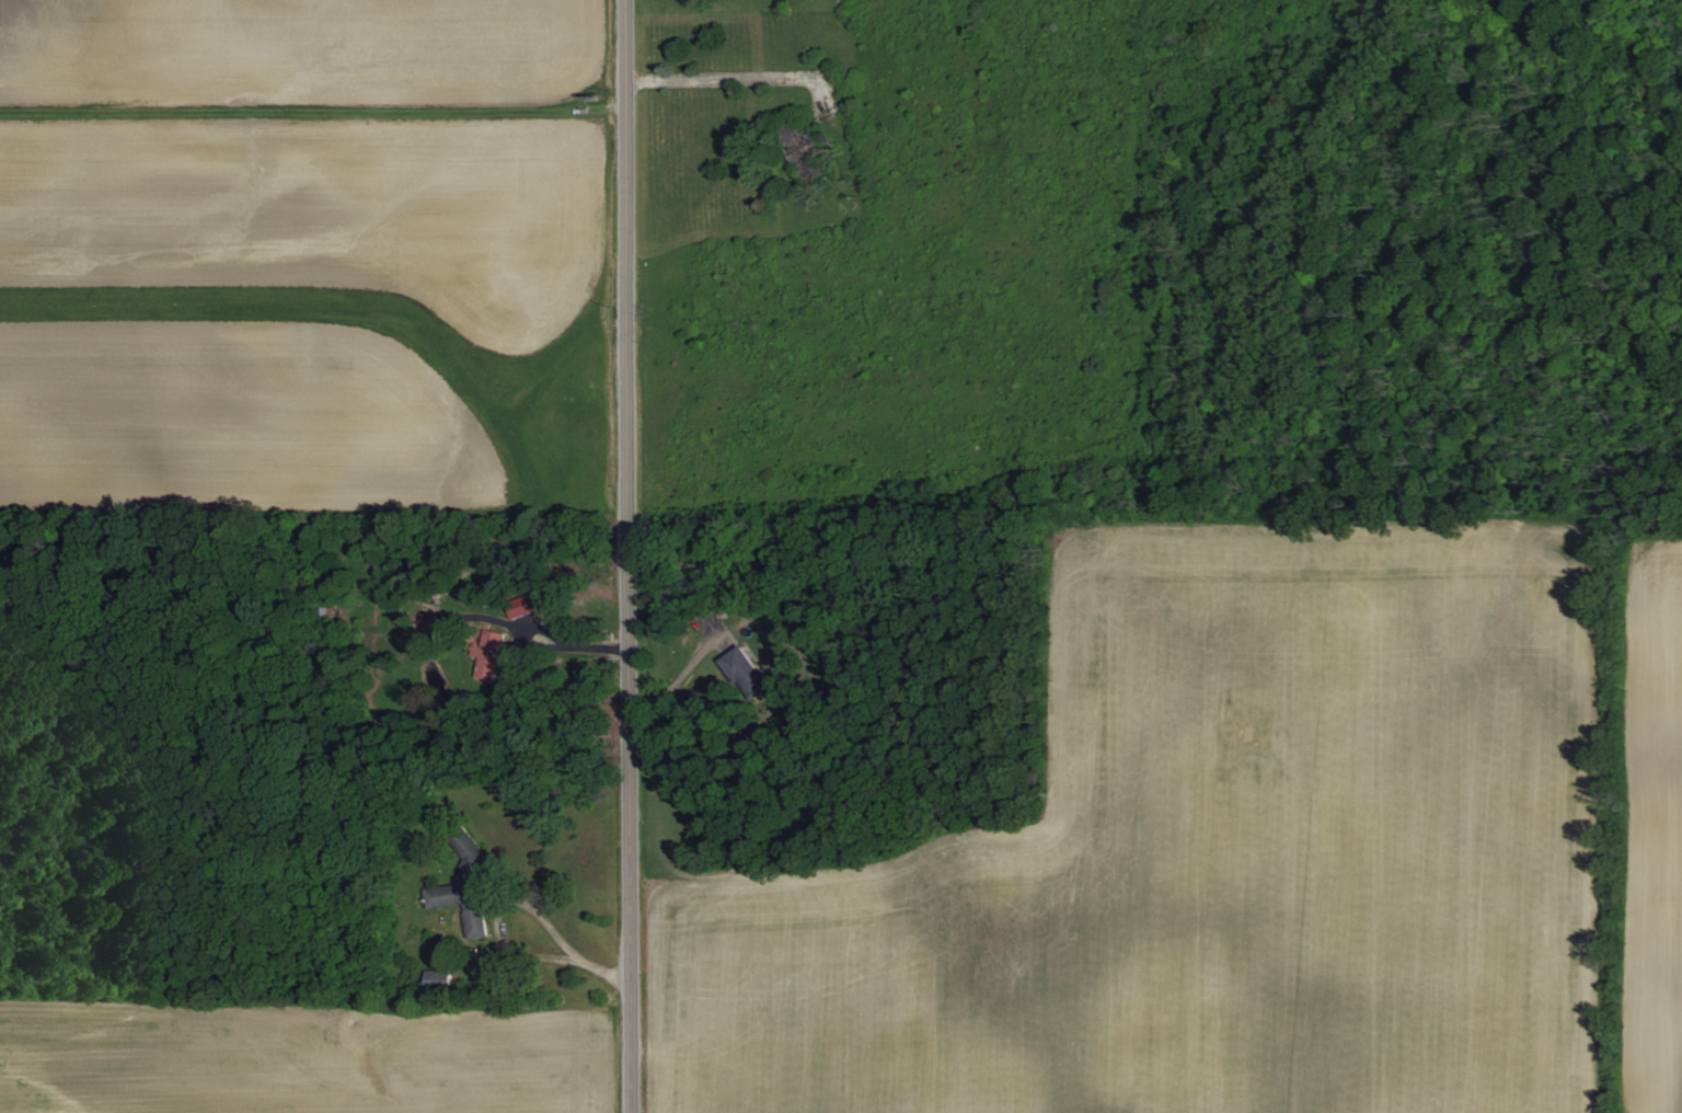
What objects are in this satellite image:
road: (738, 74)
building: (799, 140)
road: (622, 489)
building: (519, 606)
building: (324, 612)
building: (491, 653)
building: (748, 670)
building: (830, 687)
building: (466, 881)
road: (521, 961)
building: (439, 979)
road: (627, 1045)

